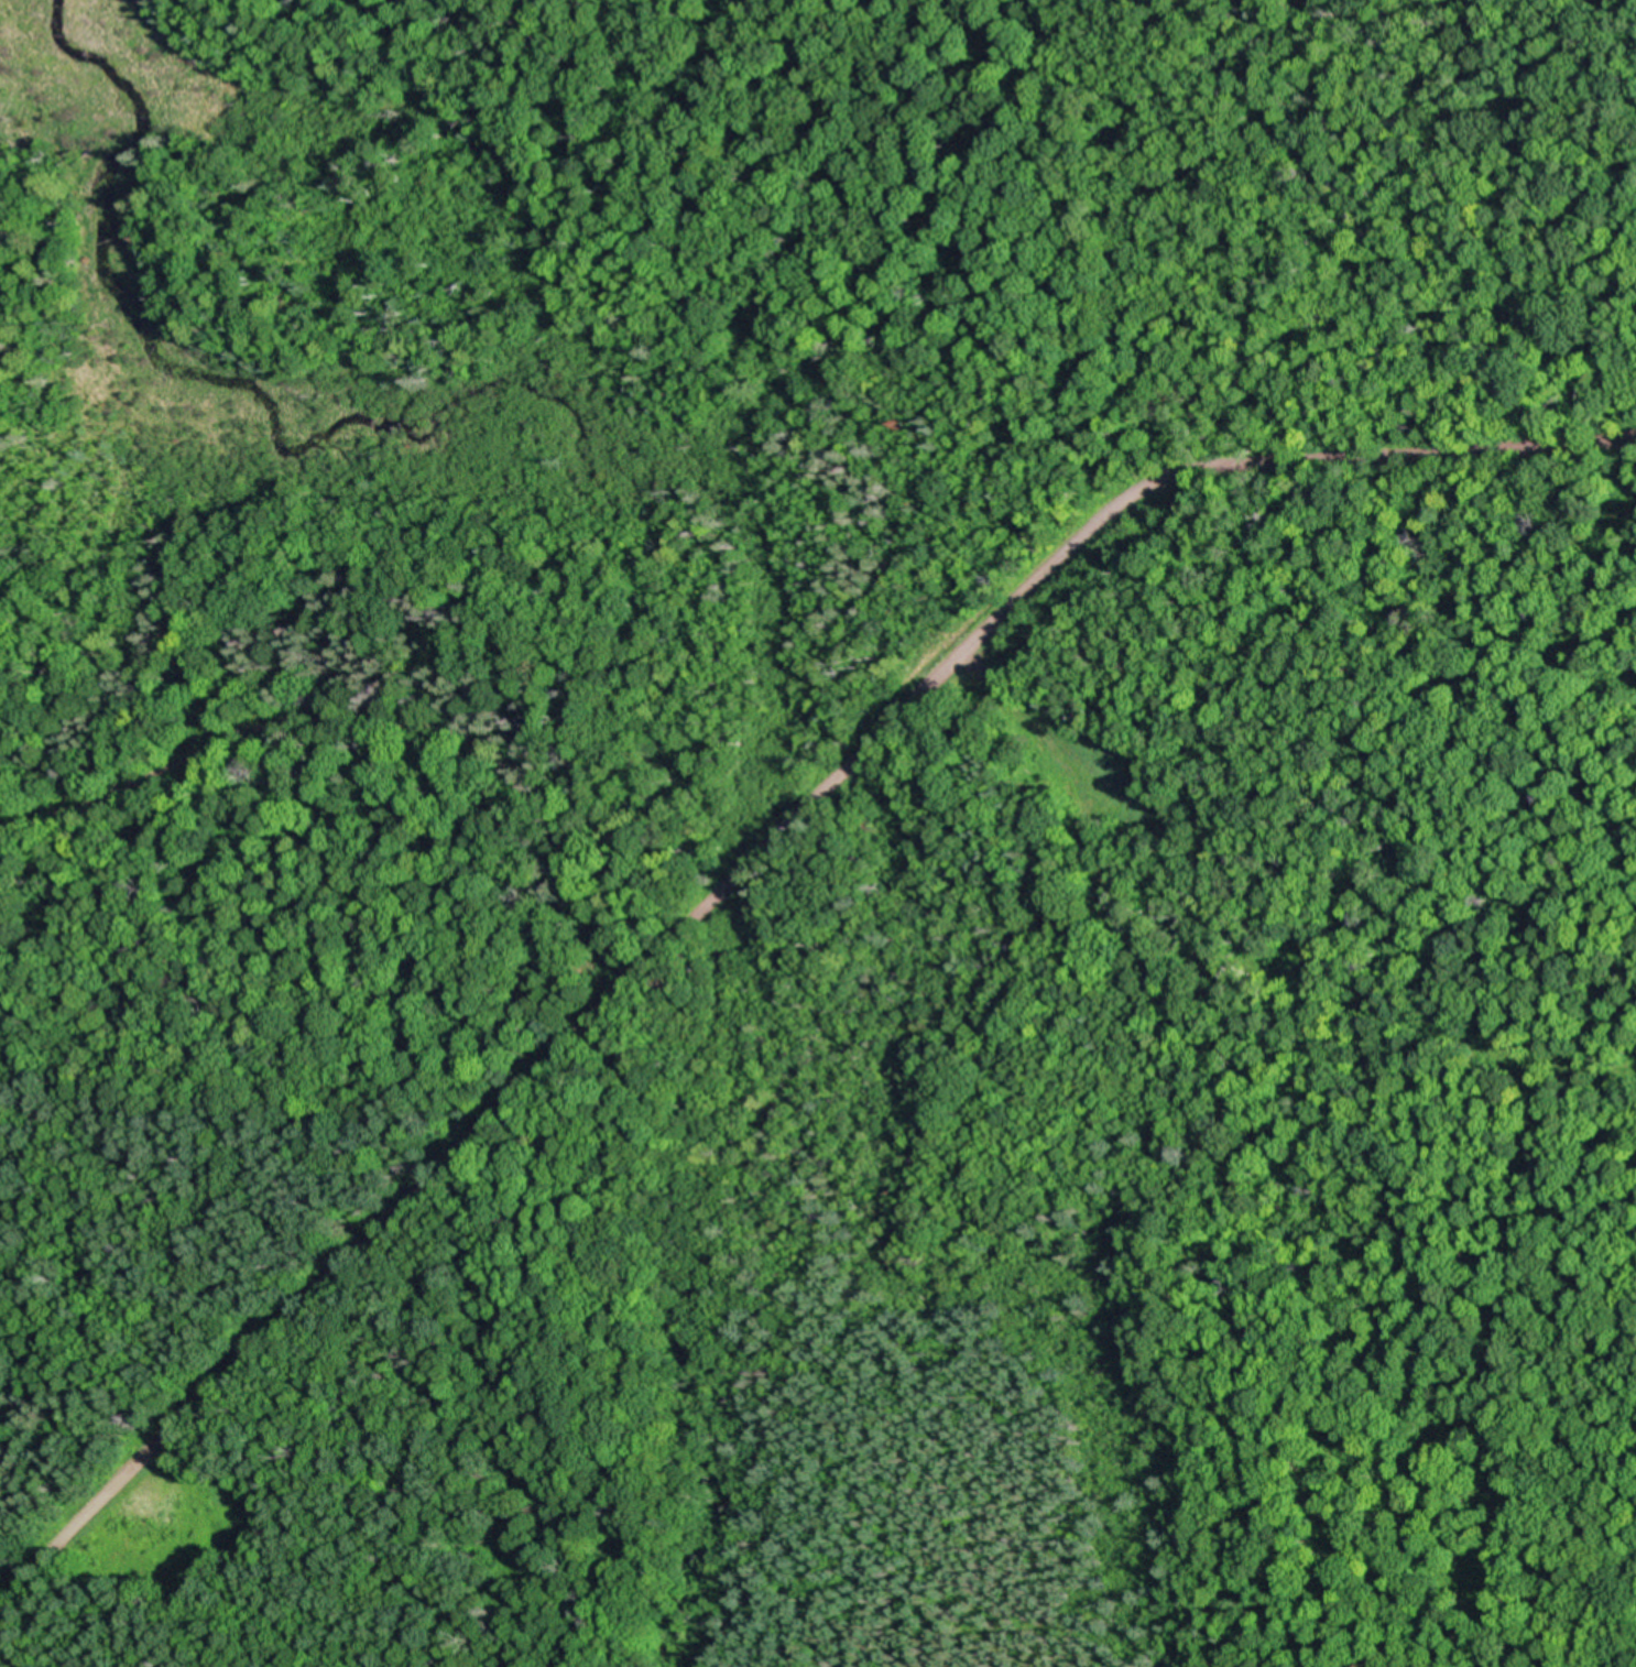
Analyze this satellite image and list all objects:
road: (734, 874)

